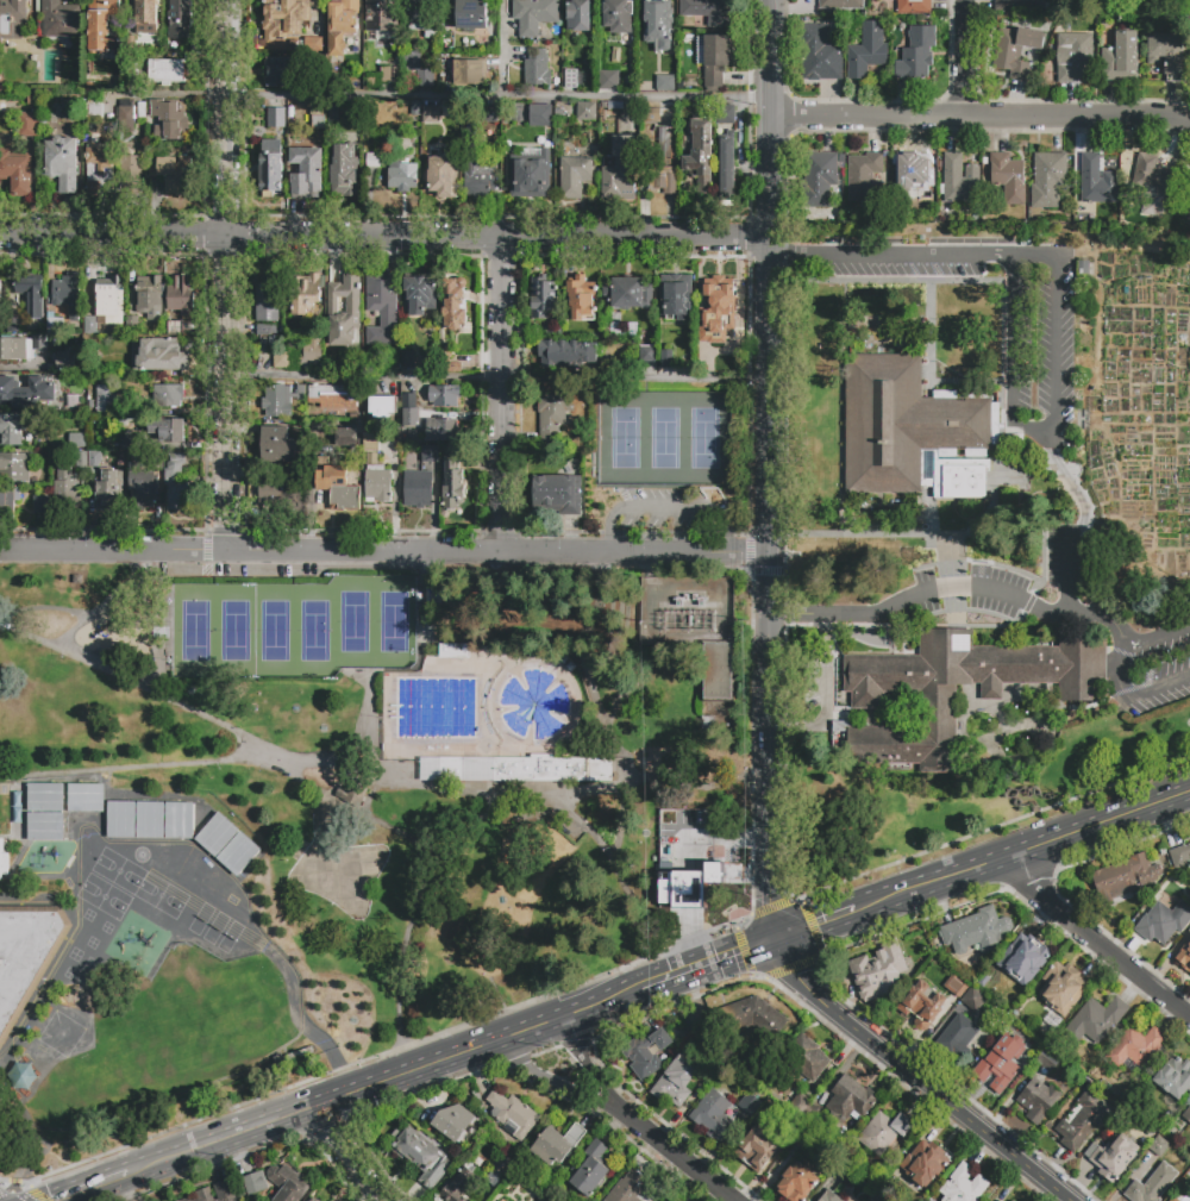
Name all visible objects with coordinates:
building: (841, 5)
building: (1019, 6)
building: (914, 7)
building: (709, 11)
building: (471, 14)
building: (534, 14)
building: (578, 14)
building: (382, 15)
building: (618, 15)
building: (12, 17)
building: (145, 17)
building: (284, 17)
building: (424, 17)
building: (180, 18)
building: (59, 19)
building: (657, 23)
building: (101, 25)
building: (342, 25)
building: (866, 50)
building: (1013, 50)
road: (506, 51)
building: (820, 52)
building: (916, 54)
building: (1166, 54)
building: (603, 57)
building: (716, 57)
road: (959, 57)
building: (1075, 57)
building: (1121, 57)
building: (418, 68)
building: (537, 68)
building: (626, 69)
building: (167, 71)
building: (276, 71)
building: (469, 71)
building: (134, 75)
building: (387, 75)
building: (608, 79)
building: (371, 80)
building: (570, 80)
building: (665, 83)
building: (681, 85)
road: (168, 95)
road: (499, 101)
building: (67, 105)
building: (415, 108)
building: (94, 110)
building: (140, 111)
building: (587, 112)
building: (333, 113)
building: (431, 114)
building: (540, 115)
building: (651, 115)
building: (726, 115)
road: (981, 115)
building: (276, 117)
building: (125, 118)
building: (317, 118)
building: (483, 119)
building: (169, 120)
building: (27, 124)
building: (664, 143)
building: (700, 154)
building: (372, 161)
building: (62, 163)
building: (726, 165)
building: (270, 167)
building: (99, 169)
building: (131, 171)
building: (173, 171)
building: (477, 171)
building: (619, 171)
building: (306, 173)
building: (344, 173)
building: (15, 175)
building: (530, 175)
building: (575, 175)
building: (440, 176)
building: (908, 176)
building: (402, 177)
building: (820, 177)
building: (864, 177)
building: (1008, 179)
building: (960, 180)
building: (1047, 180)
building: (663, 181)
building: (1096, 181)
building: (1188, 181)
building: (1151, 183)
building: (1189, 193)
building: (1188, 214)
road: (384, 240)
road: (227, 246)
road: (889, 254)
building: (305, 292)
building: (67, 293)
building: (628, 293)
building: (149, 294)
building: (31, 295)
building: (109, 296)
building: (181, 296)
building: (419, 296)
building: (580, 296)
building: (676, 296)
building: (541, 298)
building: (268, 301)
building: (716, 302)
building: (382, 307)
building: (453, 307)
building: (344, 311)
building: (133, 325)
building: (55, 326)
building: (90, 326)
building: (175, 327)
building: (264, 329)
building: (560, 329)
building: (319, 331)
building: (268, 333)
building: (21, 348)
building: (565, 354)
building: (646, 354)
building: (311, 355)
building: (161, 356)
building: (282, 358)
building: (409, 359)
building: (666, 359)
building: (68, 361)
building: (453, 361)
building: (93, 371)
road: (499, 380)
building: (26, 392)
building: (105, 396)
building: (168, 396)
building: (333, 396)
building: (444, 396)
road: (501, 396)
building: (281, 400)
building: (382, 407)
building: (409, 409)
building: (552, 417)
building: (907, 424)
road: (1053, 425)
building: (12, 429)
building: (169, 430)
building: (443, 431)
building: (346, 437)
building: (75, 439)
building: (370, 439)
park: (665, 442)
building: (133, 443)
building: (276, 445)
building: (430, 453)
building: (94, 459)
building: (81, 461)
building: (17, 465)
road: (771, 470)
building: (452, 477)
building: (959, 478)
building: (377, 481)
building: (177, 483)
building: (143, 488)
building: (338, 488)
building: (418, 488)
building: (65, 489)
building: (553, 490)
building: (107, 492)
building: (281, 494)
building: (8, 499)
building: (40, 505)
road: (666, 507)
parking lot: (669, 509)
road: (226, 524)
road: (84, 552)
road: (227, 553)
road: (527, 553)
building: (1089, 559)
road: (1065, 570)
road: (950, 587)
road: (104, 600)
road: (45, 605)
building: (433, 607)
power substation: (689, 609)
road: (822, 613)
park: (352, 621)
park: (392, 621)
road: (1111, 624)
road: (159, 625)
park: (194, 631)
park: (233, 631)
park: (273, 631)
park: (312, 631)
road: (1153, 638)
building: (453, 650)
road: (597, 670)
building: (718, 671)
road: (1161, 683)
building: (621, 686)
road: (826, 692)
building: (938, 703)
building: (708, 724)
building: (839, 732)
road: (255, 748)
park: (393, 763)
building: (430, 769)
building: (451, 769)
building: (477, 769)
building: (552, 769)
road: (694, 786)
road: (539, 788)
building: (352, 794)
building: (46, 797)
building: (84, 797)
road: (350, 807)
building: (694, 819)
building: (120, 820)
building: (150, 820)
building: (178, 820)
road: (582, 820)
building: (45, 826)
building: (217, 833)
road: (1023, 851)
building: (238, 852)
building: (1180, 855)
building: (0, 856)
park: (117, 870)
building: (685, 871)
building: (1126, 878)
park: (159, 895)
park: (102, 896)
road: (412, 912)
building: (1164, 920)
road: (815, 927)
building: (977, 931)
road: (1097, 938)
traffic signals: (775, 943)
building: (26, 956)
building: (1022, 956)
building: (1184, 957)
road: (712, 964)
building: (877, 972)
building: (957, 984)
building: (1063, 988)
building: (972, 999)
building: (922, 1005)
building: (746, 1018)
building: (1053, 1020)
building: (1095, 1020)
building: (957, 1038)
building: (1136, 1045)
building: (646, 1051)
building: (806, 1057)
building: (1047, 1061)
building: (1001, 1065)
road: (589, 1069)
building: (21, 1074)
road: (919, 1075)
building: (1175, 1077)
road: (394, 1080)
road: (549, 1080)
building: (676, 1081)
building: (1038, 1100)
building: (850, 1101)
road: (19, 1105)
building: (749, 1105)
building: (806, 1112)
building: (512, 1115)
building: (712, 1115)
building: (1186, 1115)
building: (452, 1120)
building: (1083, 1121)
building: (1126, 1121)
building: (883, 1132)
building: (791, 1133)
building: (557, 1144)
building: (807, 1144)
building: (1159, 1146)
building: (756, 1147)
road: (350, 1153)
building: (419, 1155)
building: (1115, 1157)
road: (676, 1158)
building: (923, 1163)
building: (505, 1164)
building: (589, 1169)
building: (843, 1174)
building: (796, 1182)
building: (255, 1183)
building: (288, 1183)
road: (98, 1186)
building: (459, 1186)
building: (963, 1186)
building: (1151, 1186)
building: (627, 1188)
road: (19, 1189)
building: (217, 1193)
building: (828, 1196)
building: (881, 1197)
building: (187, 1199)
building: (1184, 1199)
building: (307, 1200)
building: (674, 1200)
building: (1009, 1200)
building: (1173, 1200)

